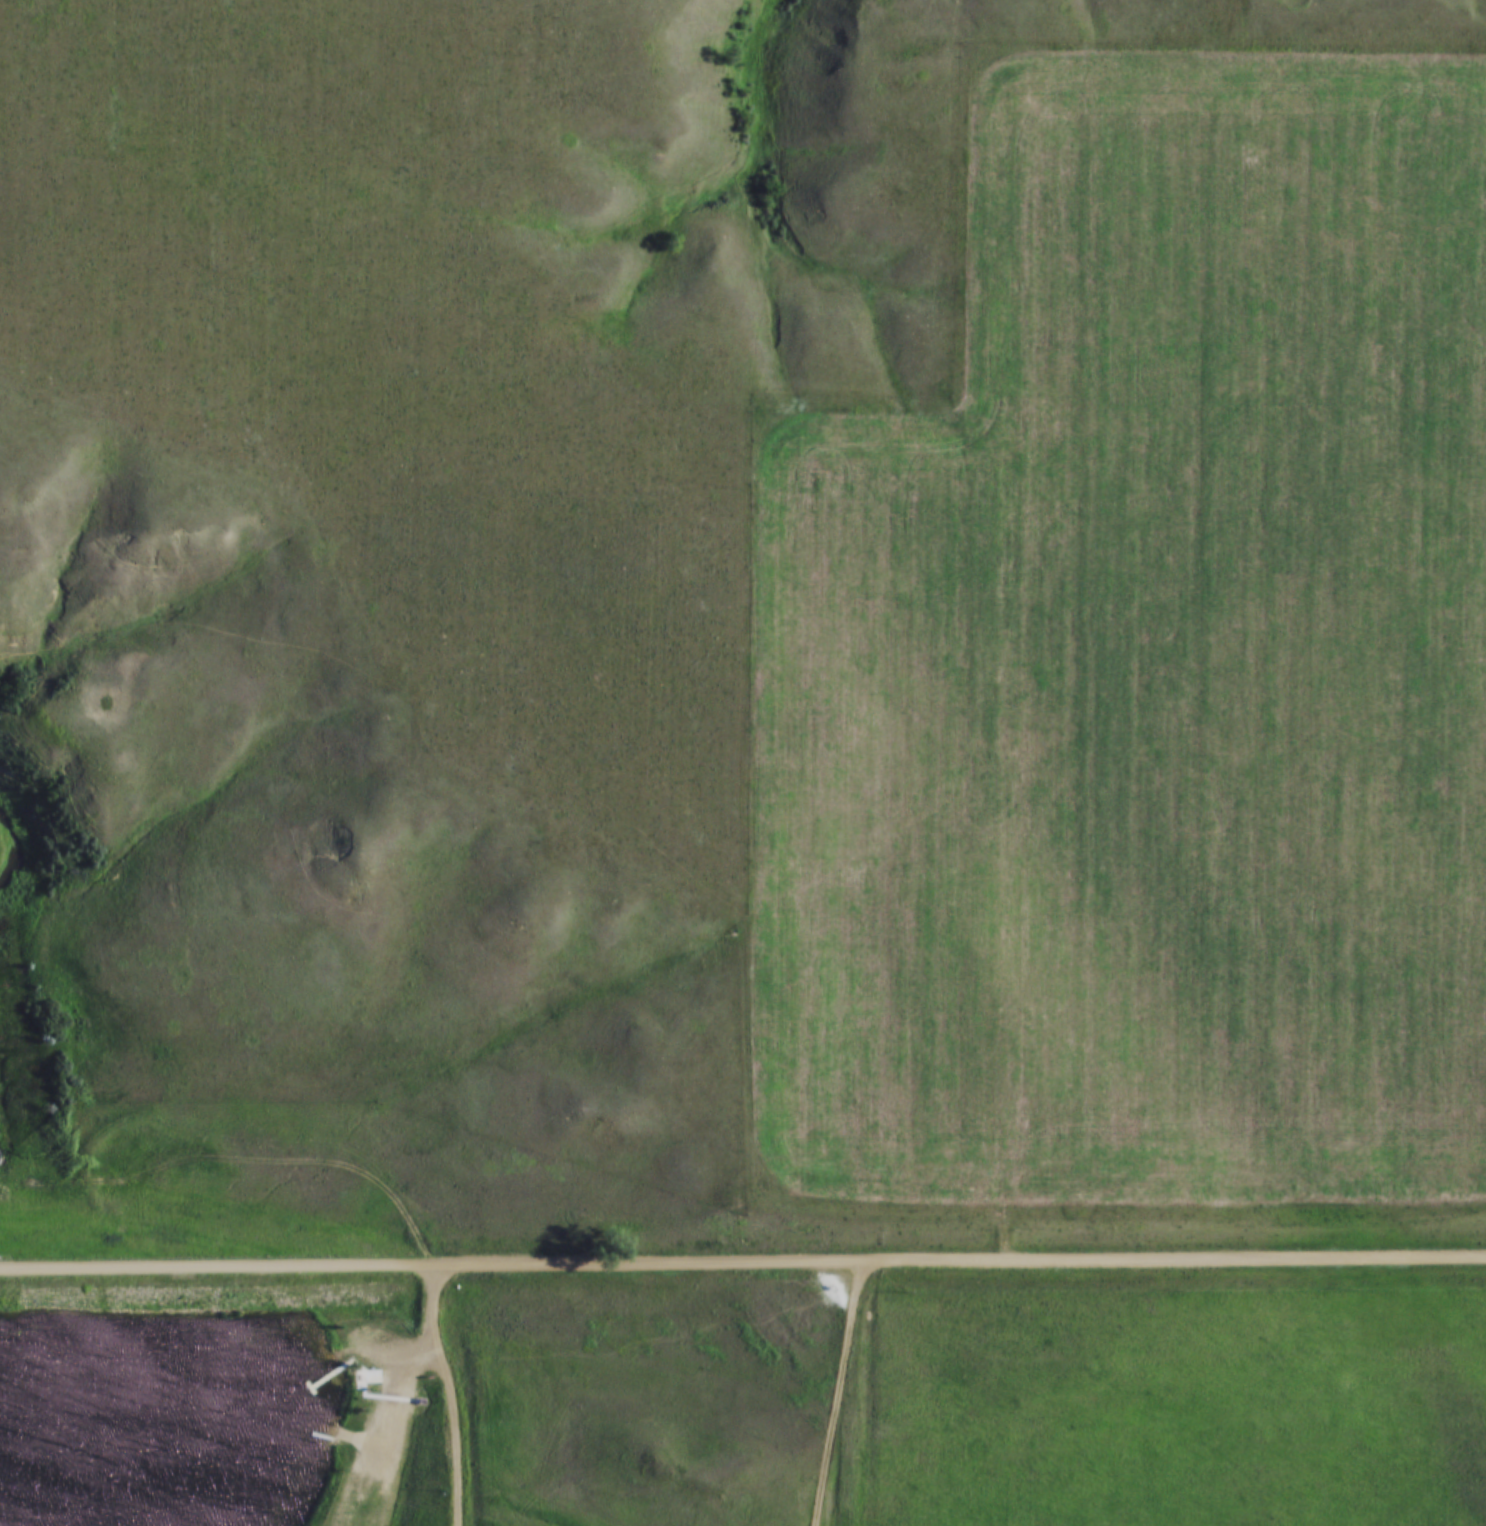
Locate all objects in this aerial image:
road: (742, 1260)
dam: (157, 1306)
road: (380, 1381)
road: (453, 1392)
road: (839, 1392)
park: (439, 1407)
road: (343, 1432)

